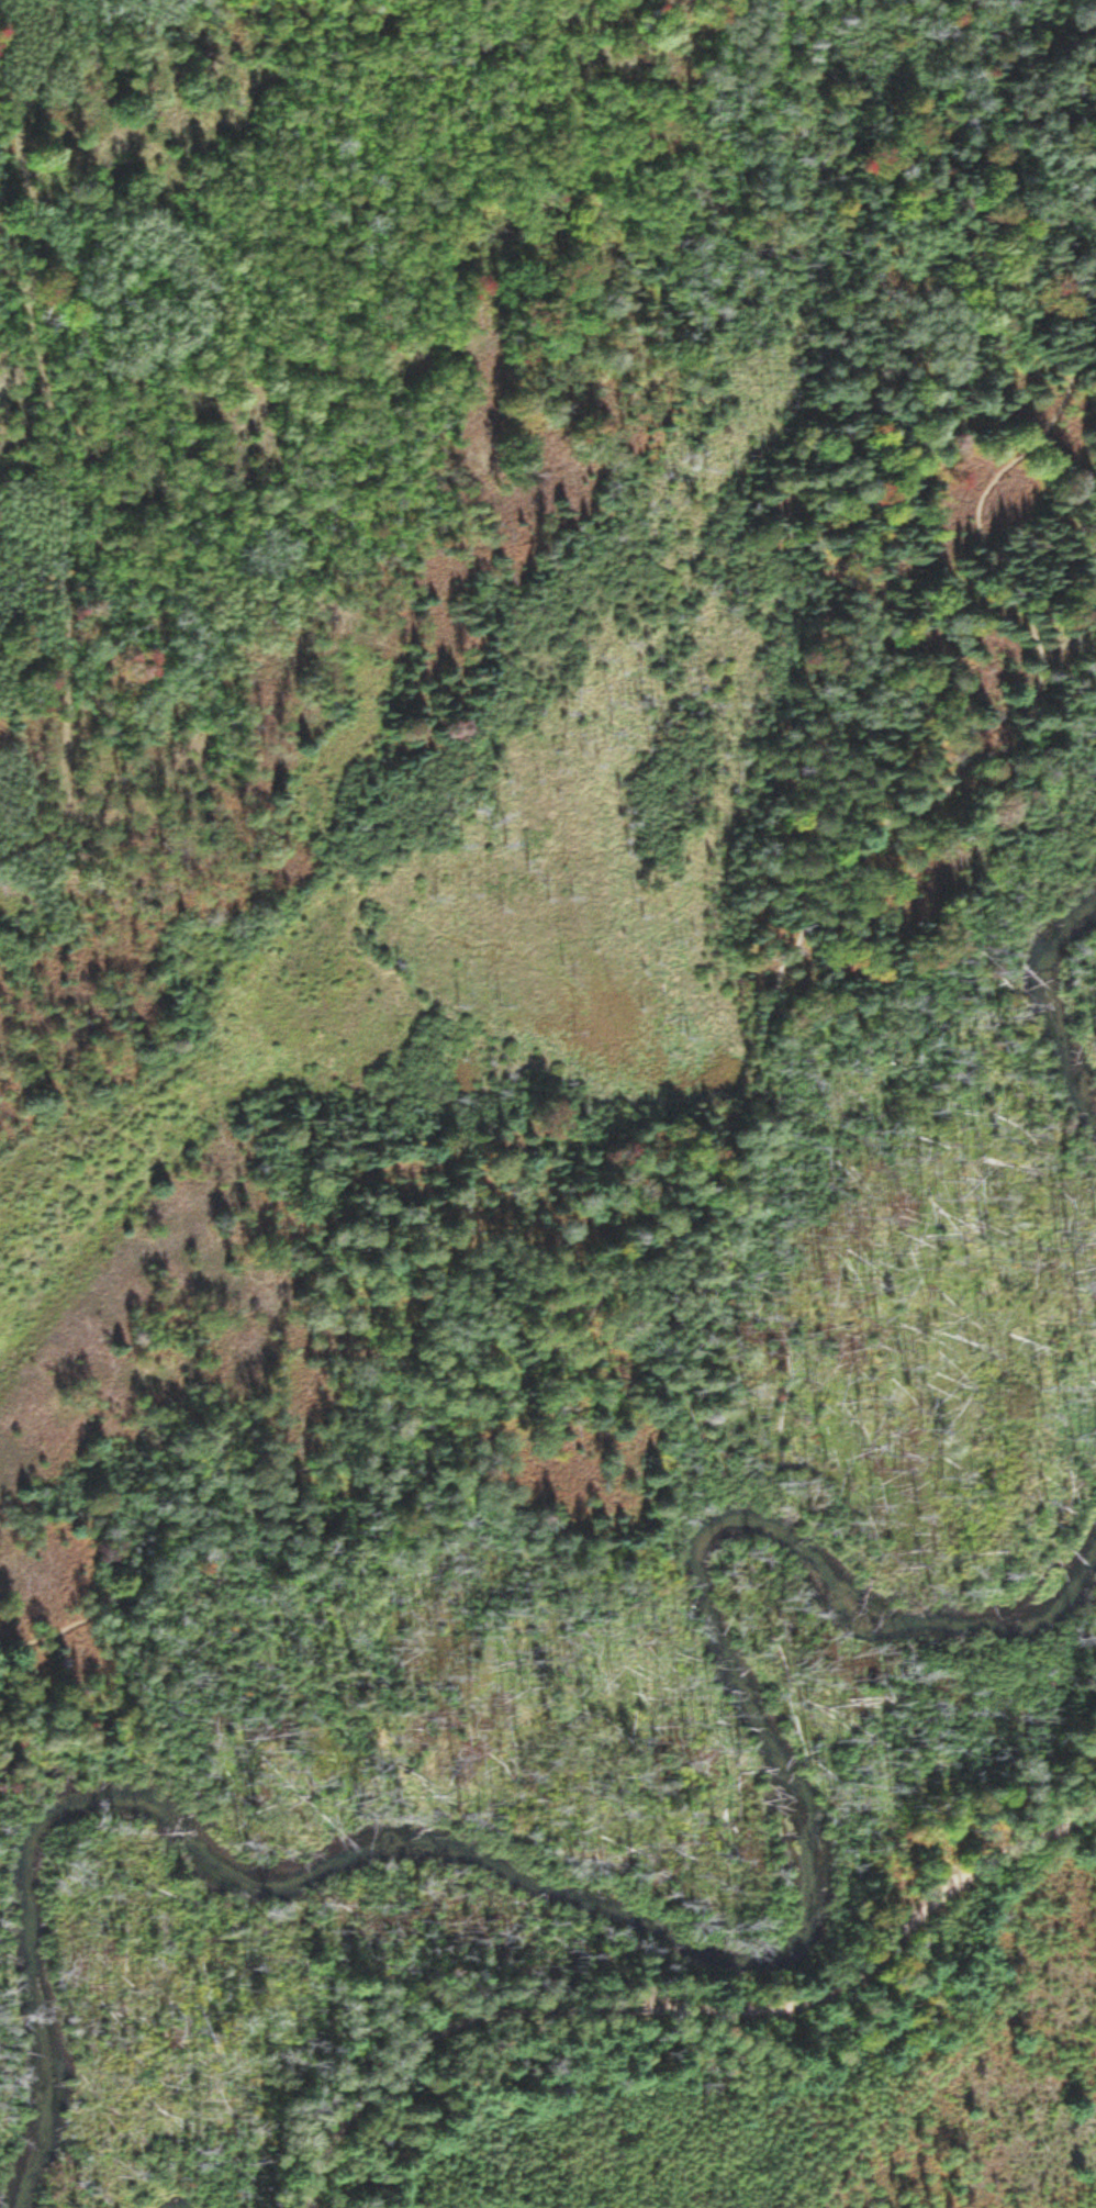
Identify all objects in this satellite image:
river: (1059, 992)
park: (571, 1123)
road: (712, 1133)
river: (678, 1956)
road: (682, 2007)

